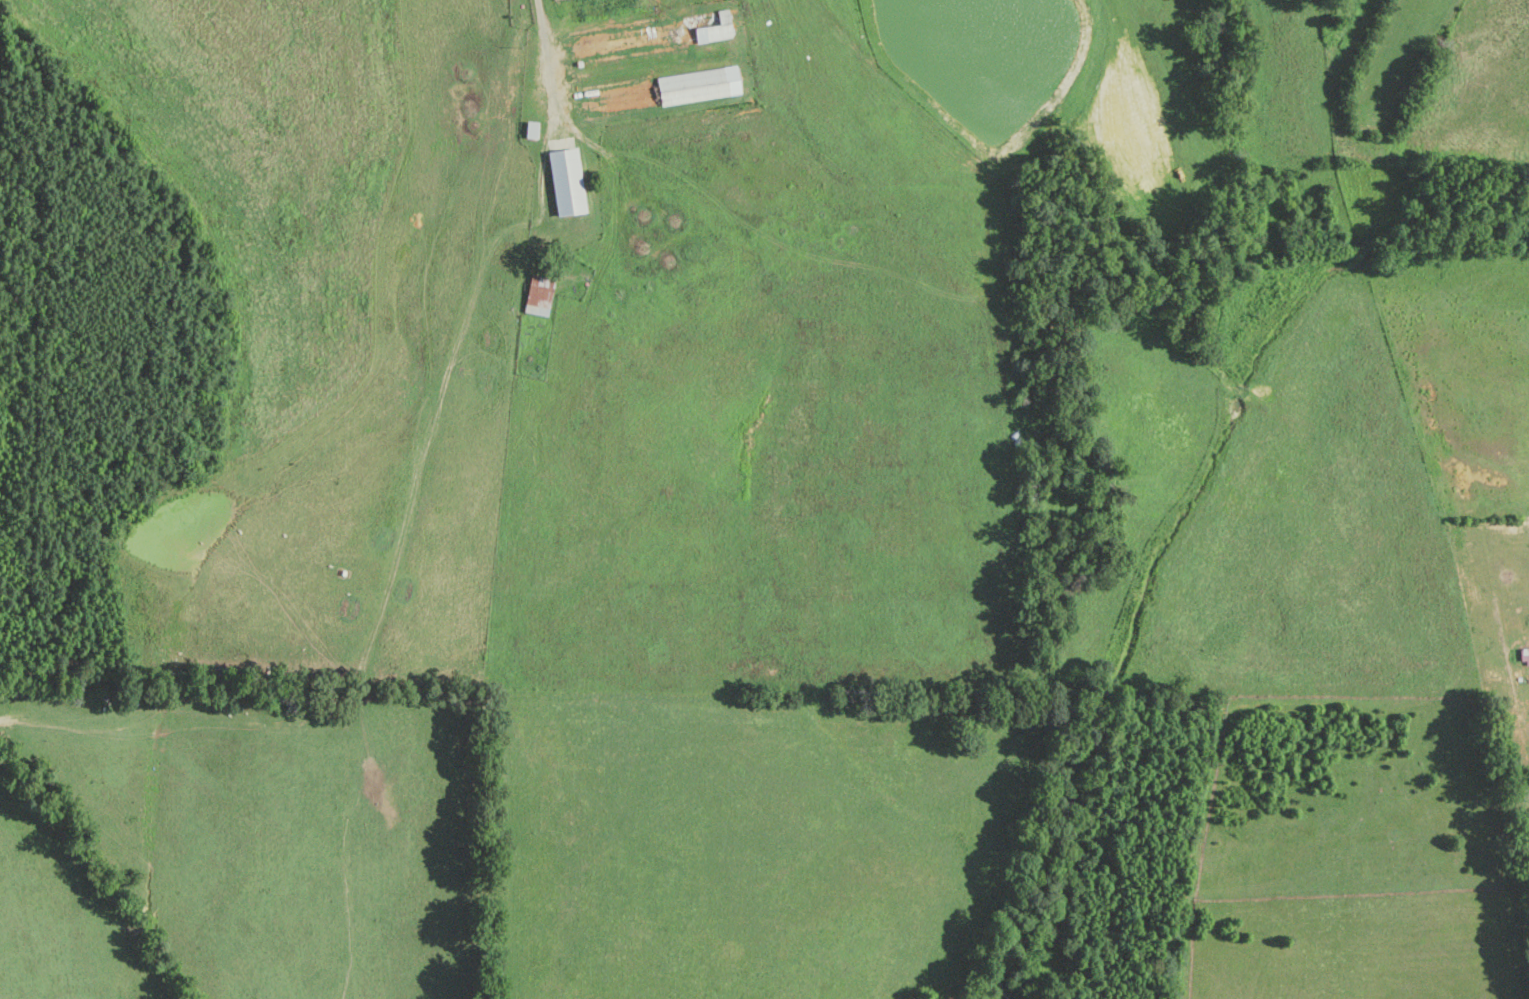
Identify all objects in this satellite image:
building: (708, 26)
building: (590, 44)
road: (547, 48)
airport runway: (1396, 57)
building: (566, 180)
building: (539, 296)

